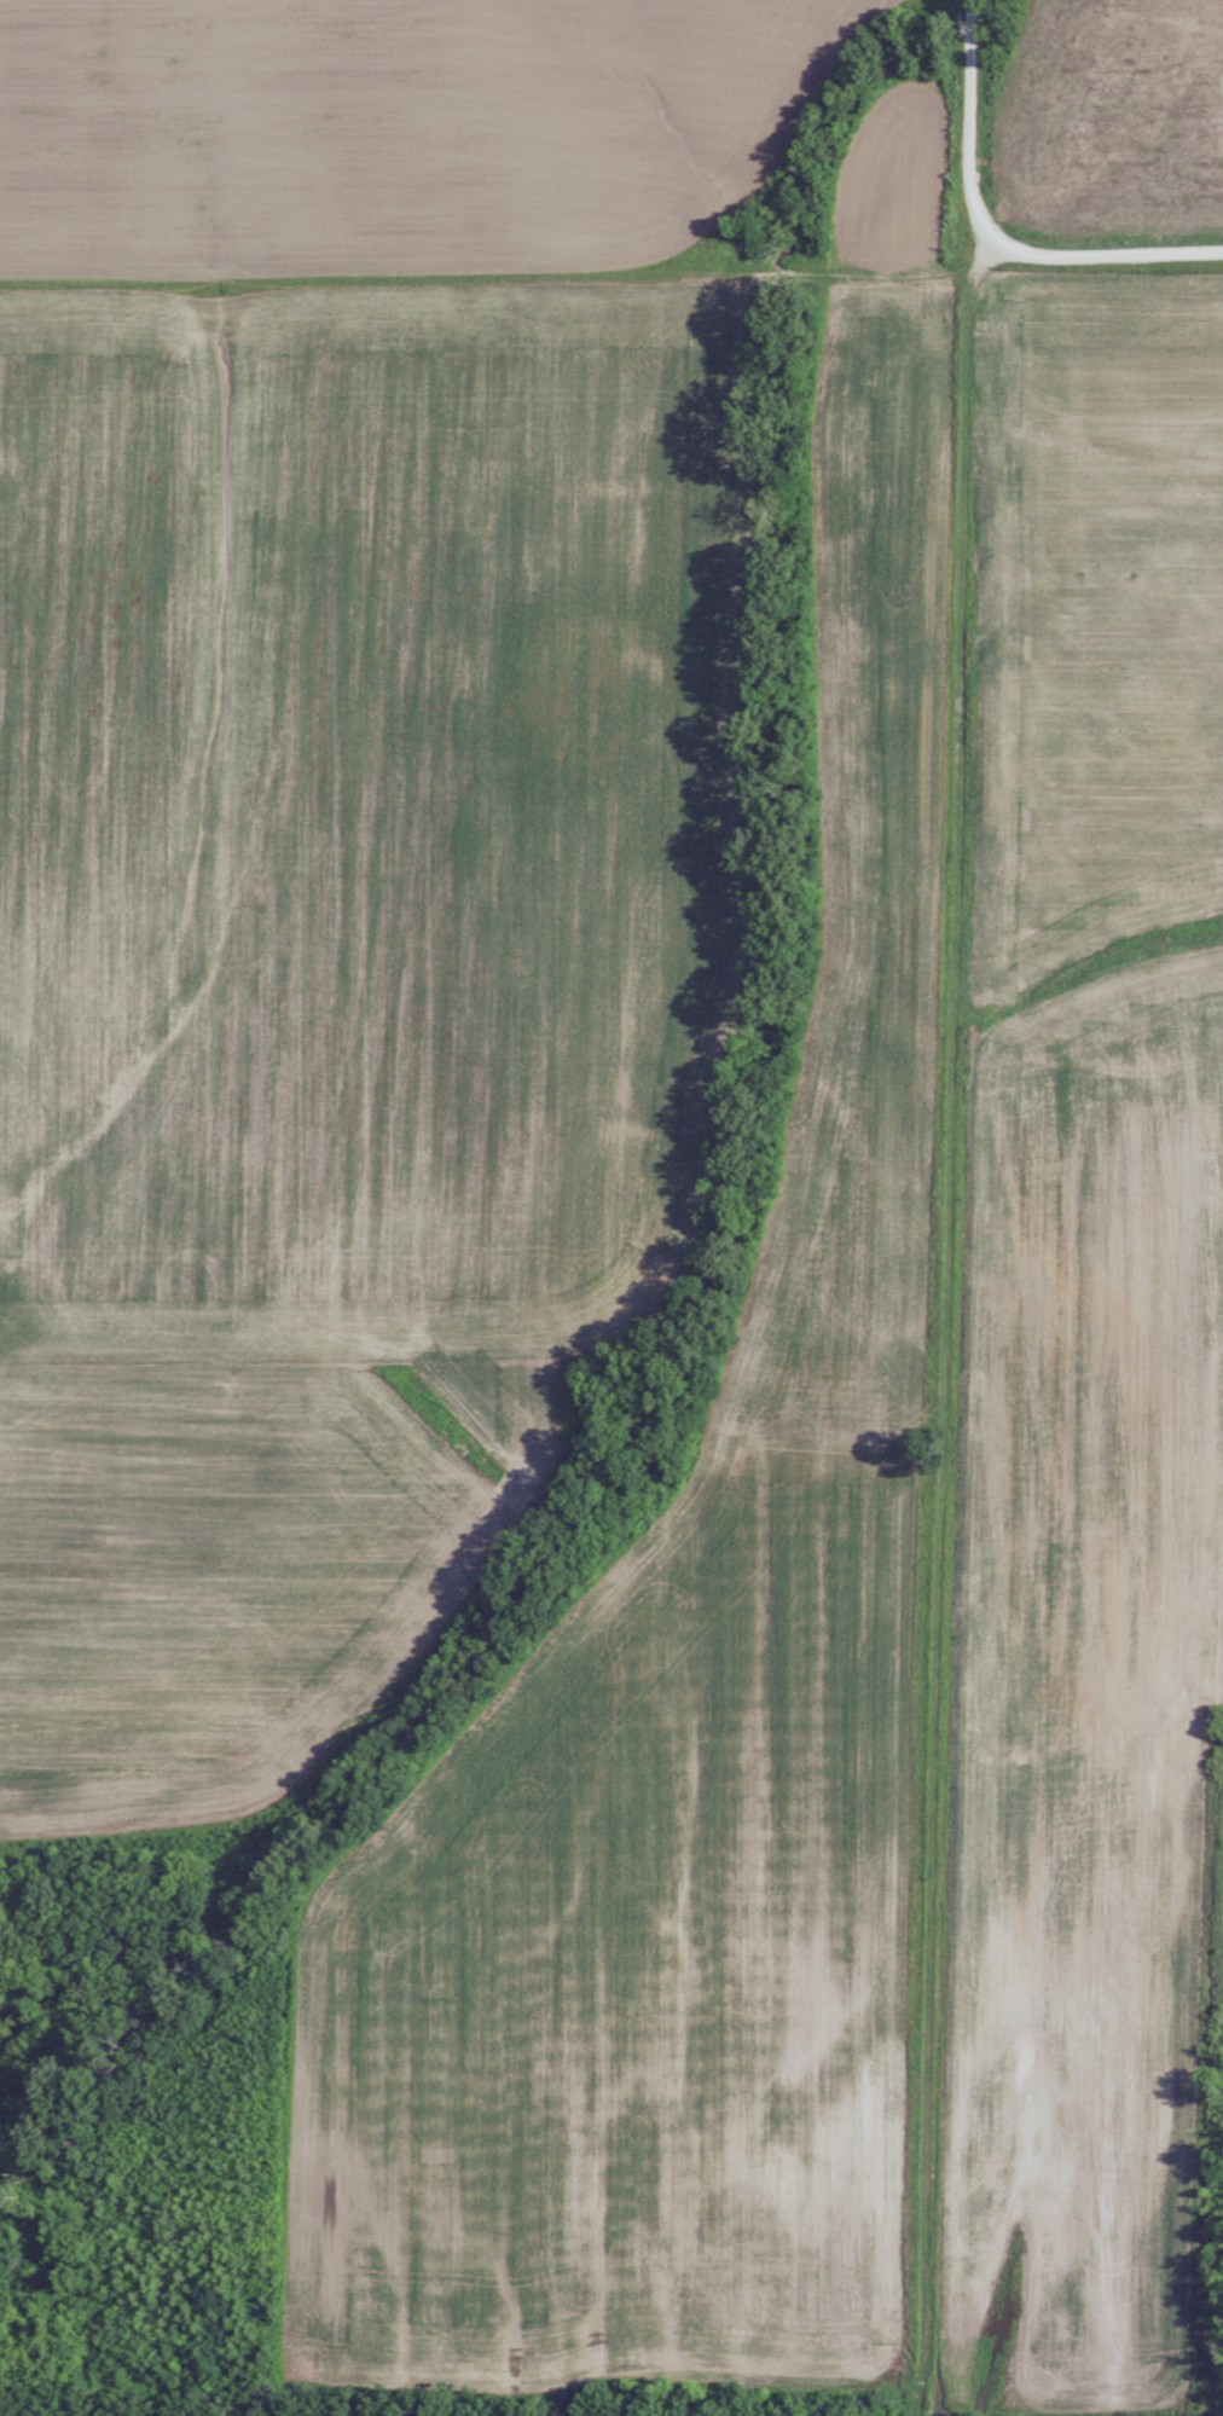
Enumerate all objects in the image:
road: (975, 123)
road: (1108, 256)

